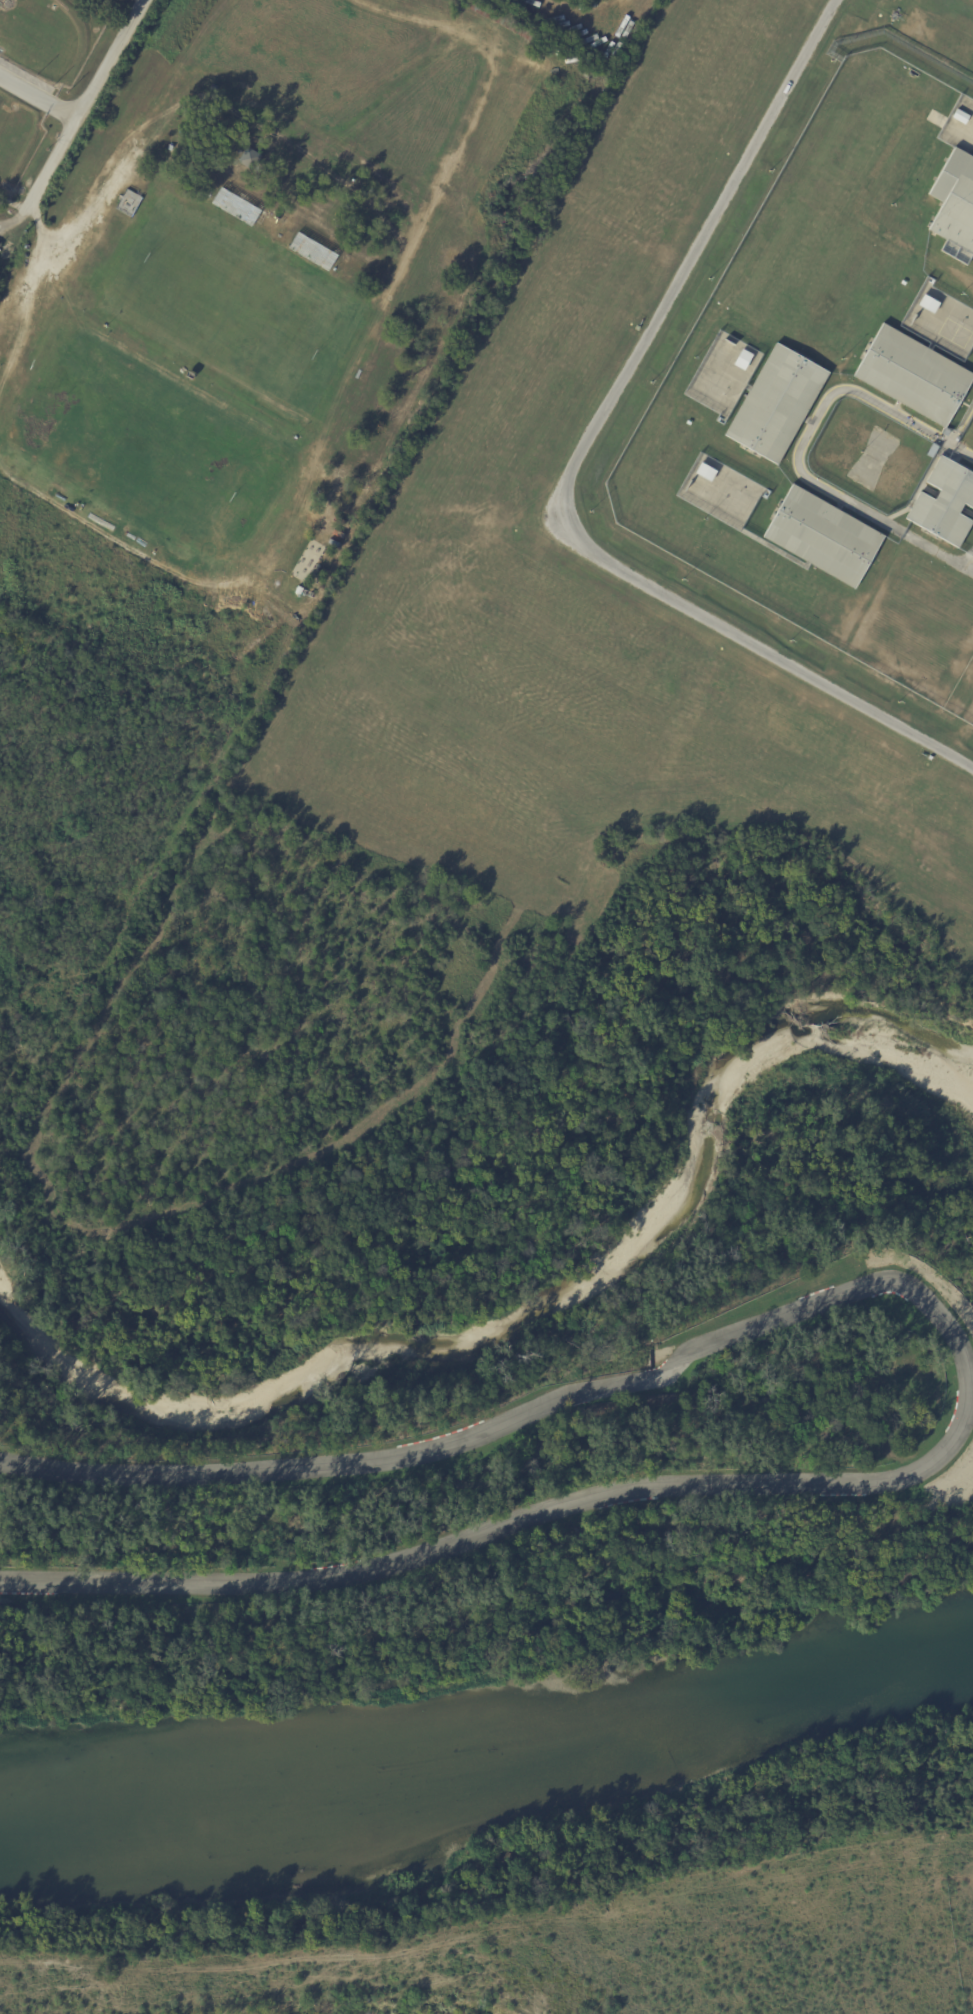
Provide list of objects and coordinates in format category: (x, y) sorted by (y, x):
building: (90, 0)
building: (408, 3)
building: (505, 22)
road: (91, 92)
road: (38, 100)
building: (960, 116)
building: (248, 156)
building: (955, 206)
road: (22, 209)
building: (1, 246)
building: (928, 304)
building: (741, 360)
building: (913, 376)
building: (776, 404)
road: (800, 446)
building: (932, 451)
road: (580, 463)
building: (705, 472)
building: (945, 504)
building: (823, 537)
road: (971, 565)
park: (445, 1088)
raceway: (969, 1373)
park: (487, 1622)
river: (490, 1754)

